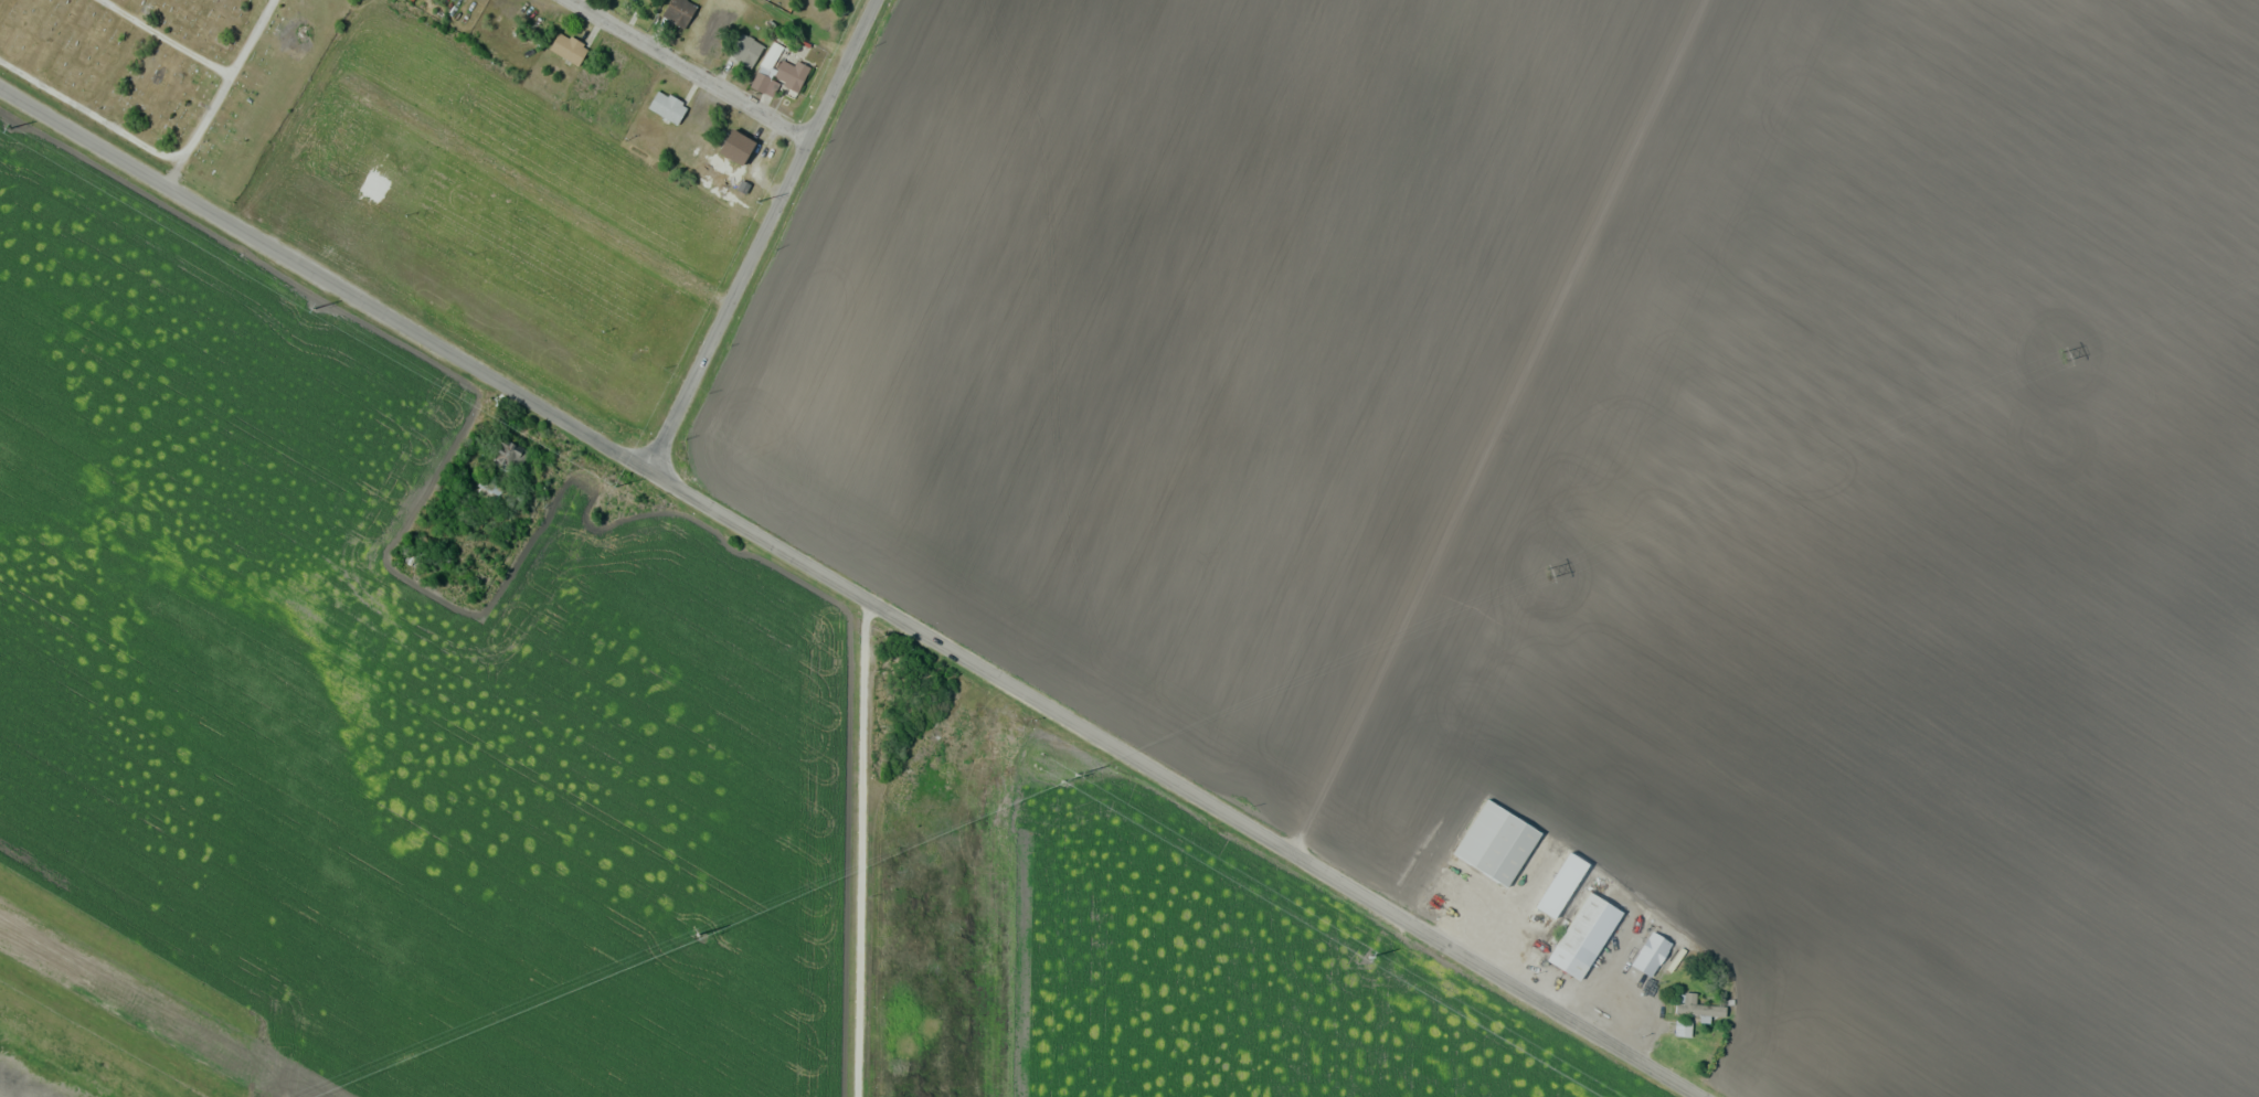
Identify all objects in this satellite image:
building: (679, 12)
road: (166, 35)
road: (250, 35)
building: (568, 47)
building: (744, 50)
road: (700, 68)
park: (173, 71)
building: (791, 74)
building: (760, 82)
building: (667, 106)
power tower: (9, 127)
road: (128, 134)
building: (736, 147)
road: (541, 191)
power tower: (756, 202)
road: (764, 235)
road: (325, 285)
power tower: (315, 308)
power tower: (2061, 355)
building: (507, 454)
power tower: (614, 487)
building: (487, 489)
road: (756, 533)
power tower: (1548, 574)
power tower: (1075, 775)
power tower: (1061, 781)
building: (1496, 841)
road: (860, 843)
road: (1282, 843)
building: (1548, 897)
power tower: (697, 934)
building: (1584, 934)
power tower: (1369, 957)
building: (1695, 1013)

